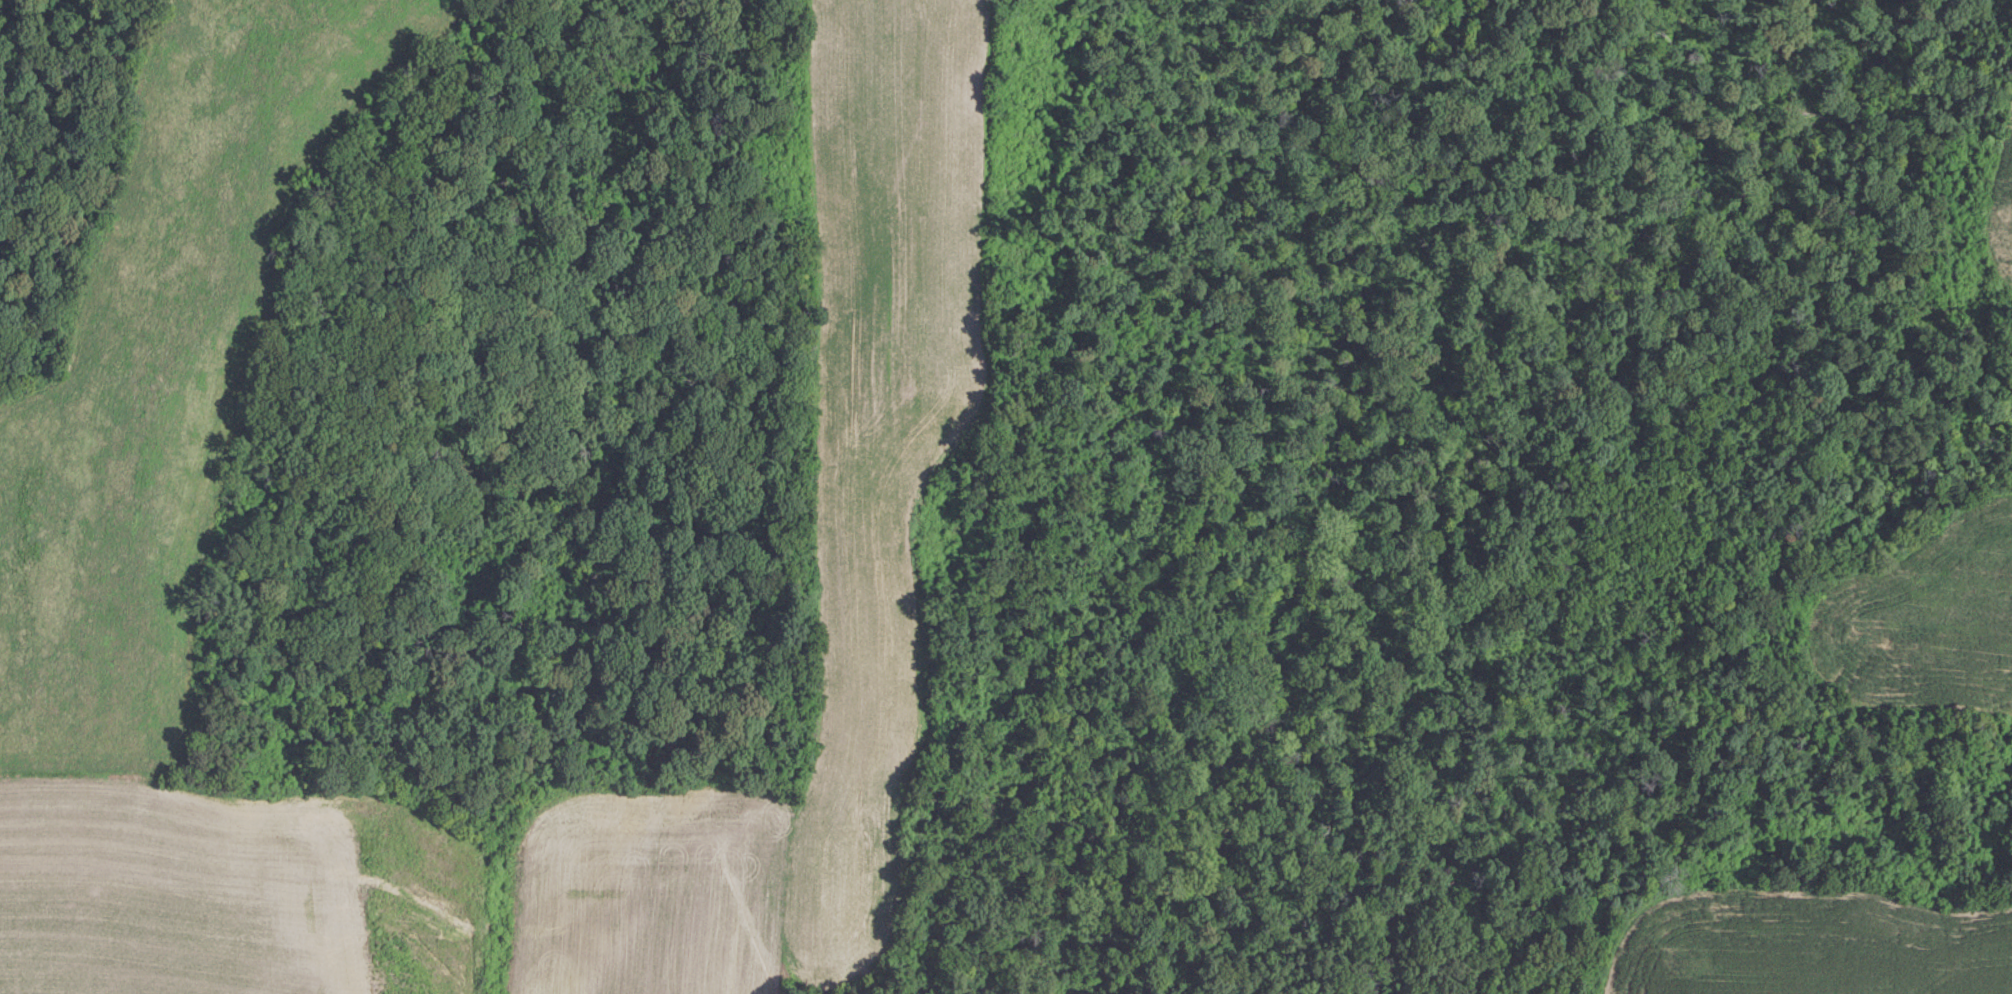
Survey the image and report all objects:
crop: (1997, 203)
crop: (882, 425)
crop: (1921, 620)
crop: (1807, 937)

